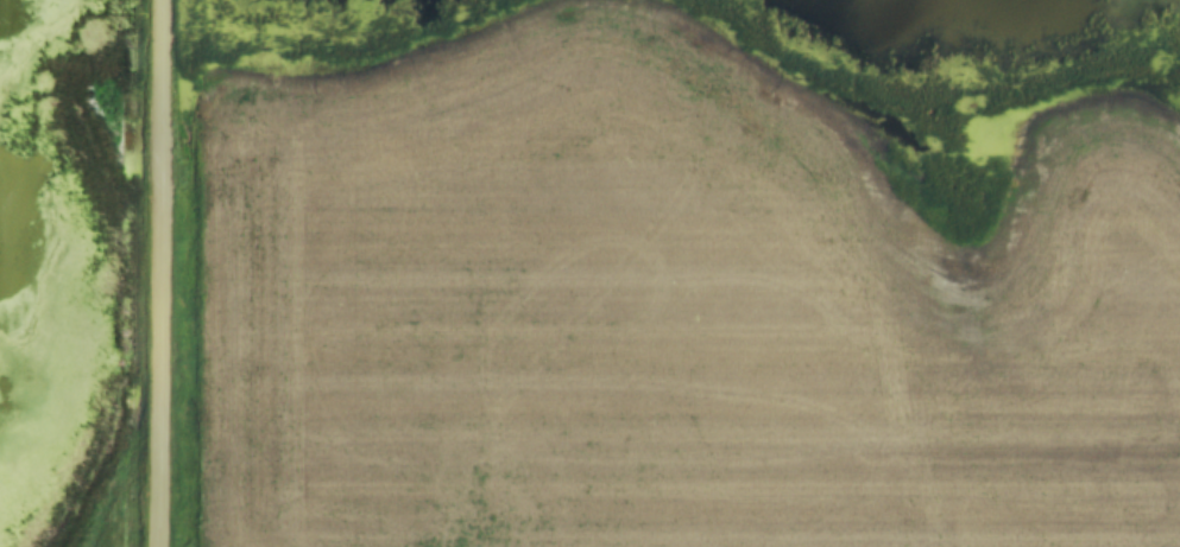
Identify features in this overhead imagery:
road: (162, 273)

